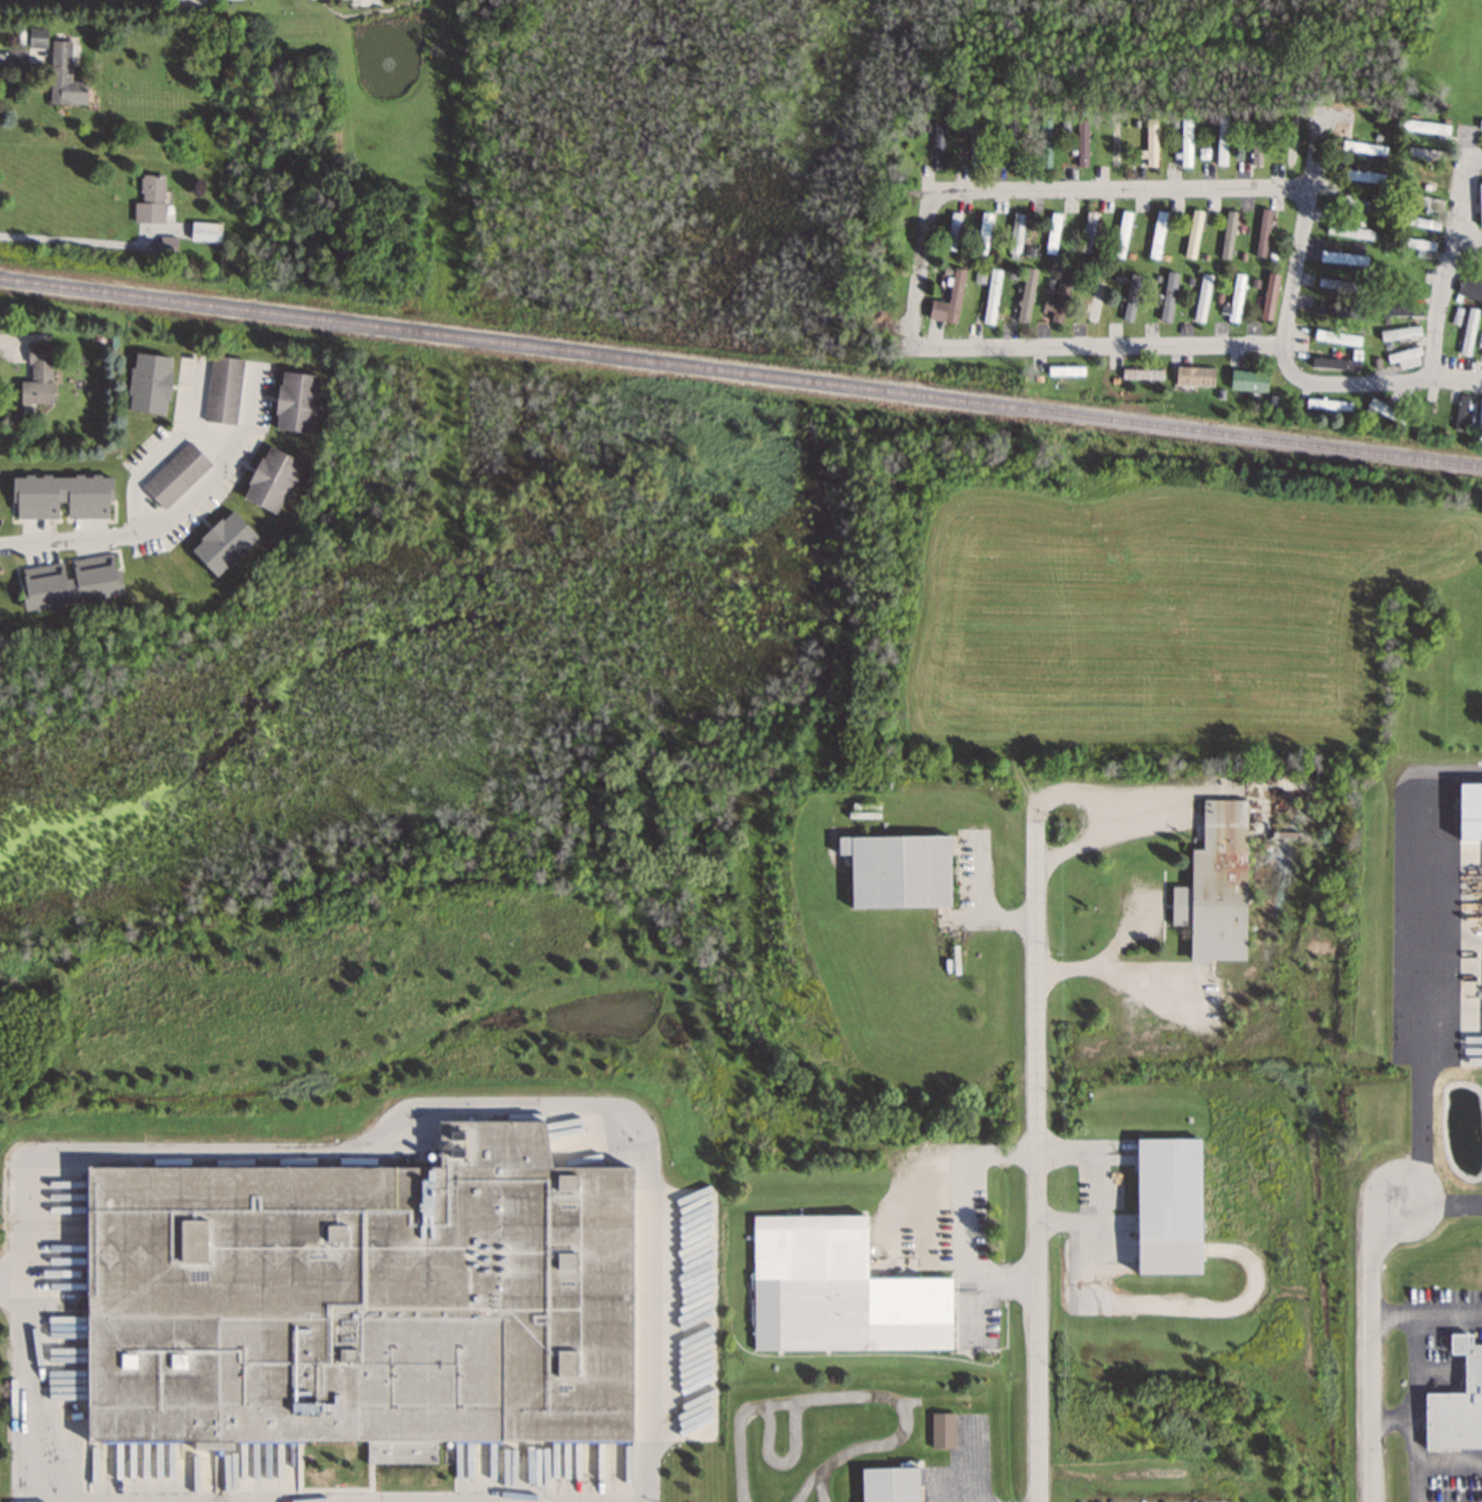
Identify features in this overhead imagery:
building: (55, 66)
building: (1480, 126)
building: (1426, 128)
building: (1222, 141)
building: (1256, 141)
building: (1152, 142)
building: (1186, 142)
building: (1082, 143)
building: (975, 144)
building: (1045, 144)
building: (1011, 145)
building: (939, 146)
building: (1363, 148)
building: (1413, 152)
road: (1476, 158)
building: (1364, 175)
building: (149, 200)
building: (1421, 202)
building: (1358, 204)
building: (1480, 206)
building: (1419, 223)
building: (204, 232)
building: (952, 232)
building: (1088, 232)
building: (1350, 232)
building: (1263, 233)
building: (983, 234)
building: (1053, 234)
building: (1193, 234)
building: (1016, 235)
building: (1122, 235)
building: (1157, 235)
building: (1228, 235)
building: (1419, 247)
road: (1469, 249)
road: (1455, 253)
building: (1341, 255)
road: (921, 268)
building: (1403, 274)
building: (1340, 285)
building: (1470, 289)
building: (1026, 295)
building: (992, 297)
building: (1059, 297)
building: (1131, 297)
building: (1169, 297)
building: (1269, 297)
building: (1203, 298)
building: (949, 300)
building: (1235, 300)
building: (1095, 302)
building: (1402, 310)
building: (1340, 312)
road: (1289, 331)
building: (1469, 332)
building: (1400, 334)
building: (1338, 338)
building: (1406, 358)
building: (1066, 371)
building: (1143, 374)
building: (37, 375)
building: (1194, 376)
building: (1249, 381)
building: (147, 382)
building: (222, 389)
building: (294, 401)
building: (1328, 404)
building: (1418, 408)
building: (1386, 411)
building: (1440, 412)
building: (1461, 412)
building: (1479, 422)
building: (175, 475)
building: (270, 479)
building: (61, 496)
road: (166, 514)
building: (221, 542)
building: (68, 581)
park: (454, 659)
road: (1105, 835)
building: (896, 870)
building: (1215, 885)
road: (978, 908)
road: (1103, 962)
road: (1146, 981)
road: (1423, 1008)
road: (1037, 1159)
building: (1167, 1205)
building: (837, 1291)
building: (360, 1299)
road: (1423, 1310)
road: (1366, 1342)
road: (16, 1390)
building: (1457, 1403)
road: (1413, 1406)
road: (1390, 1421)
building: (941, 1430)
building: (889, 1484)

